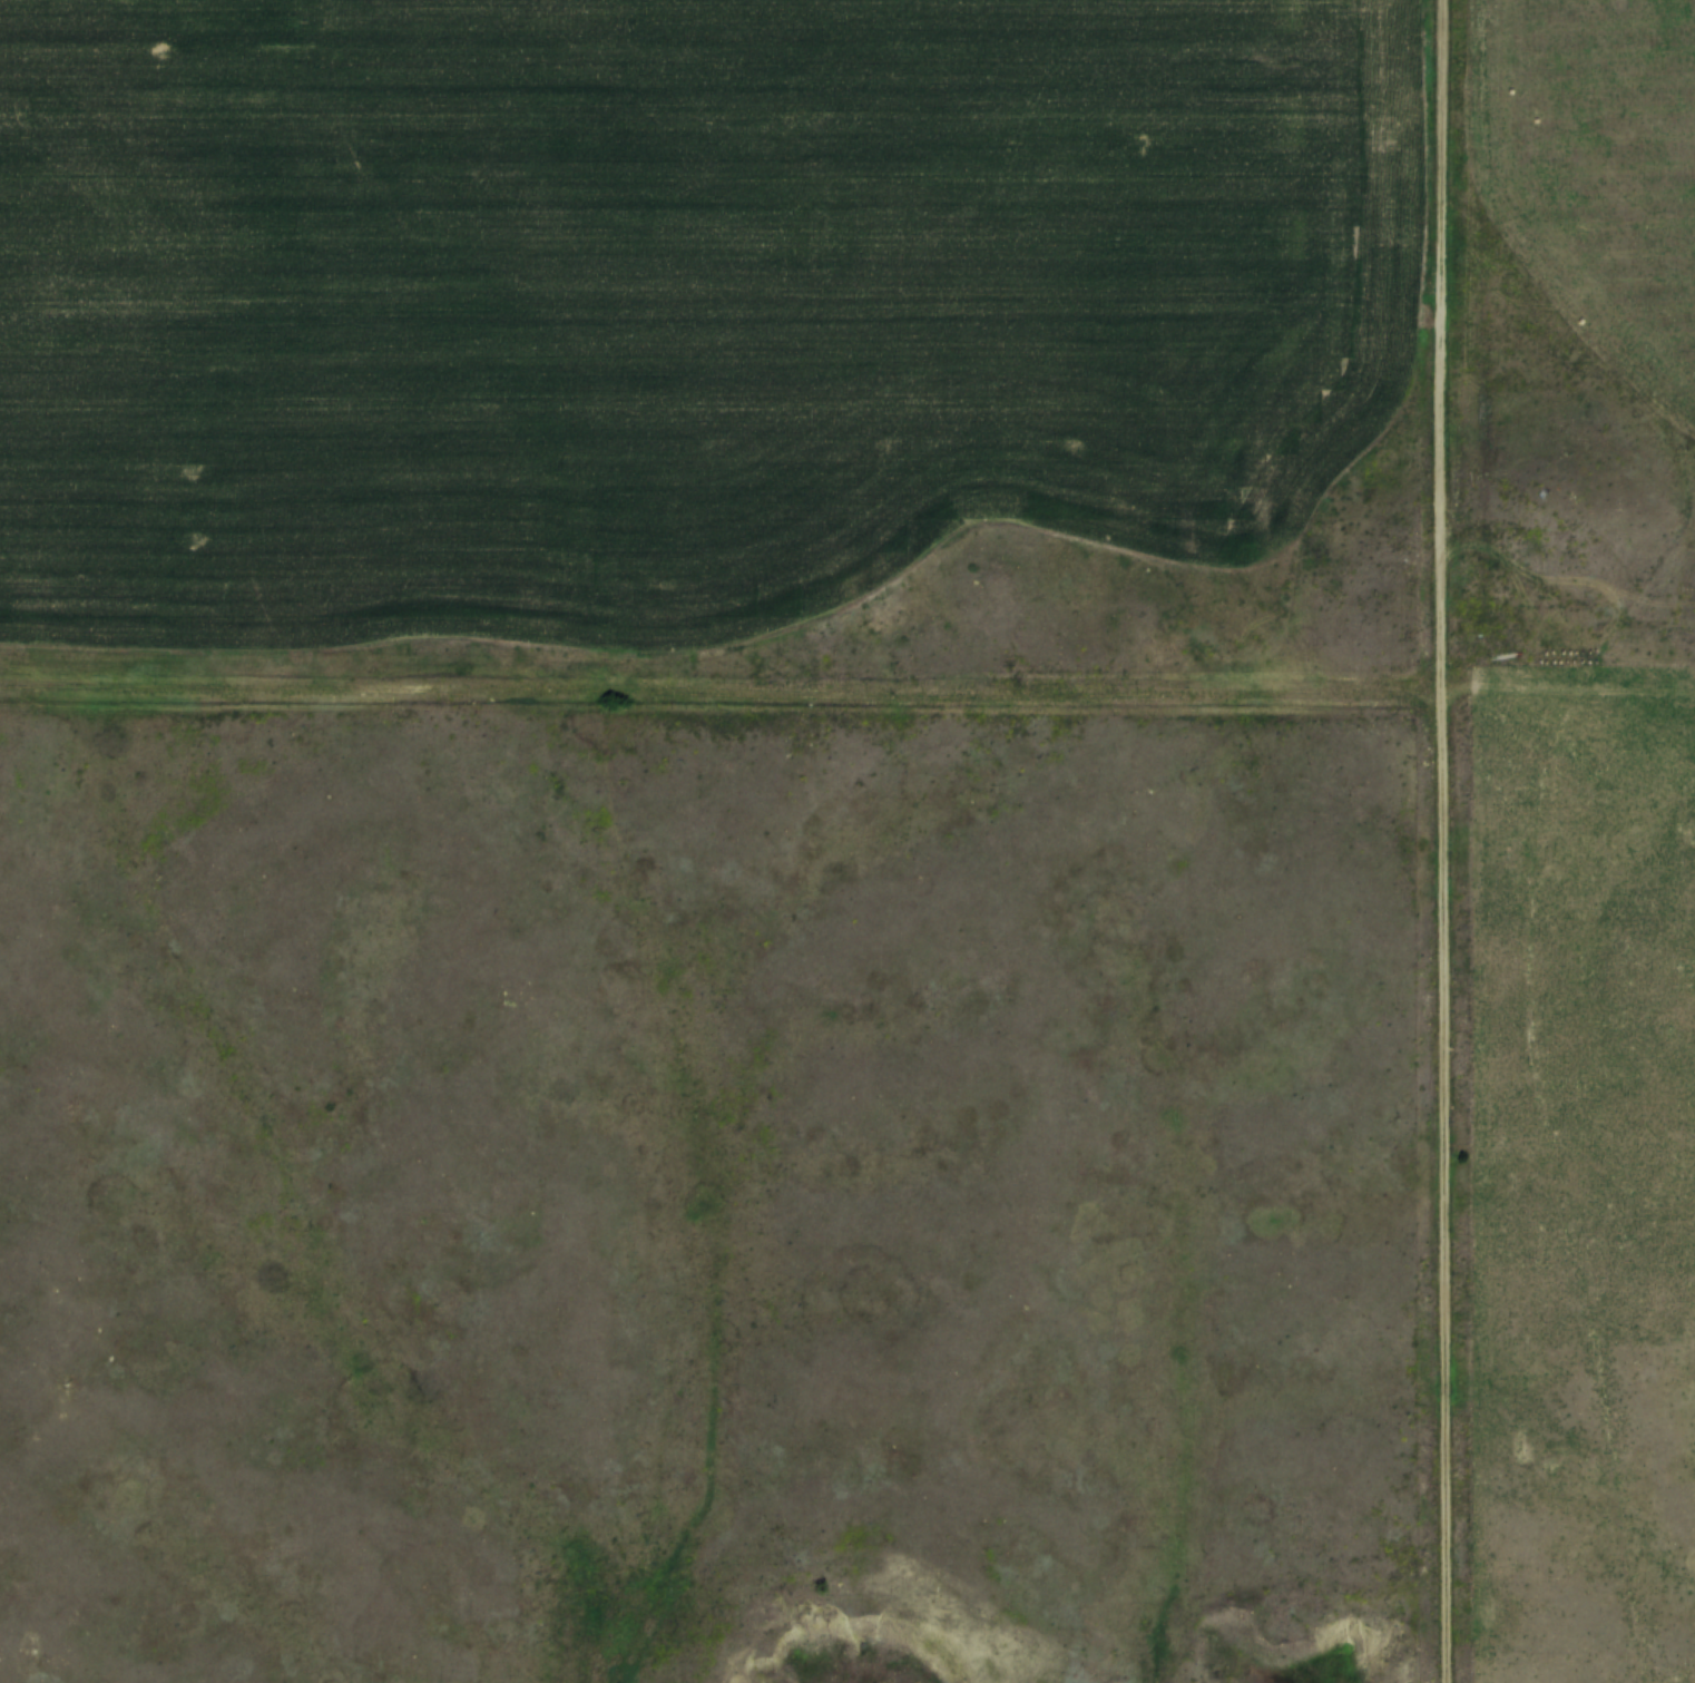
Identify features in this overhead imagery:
road: (1450, 1178)

